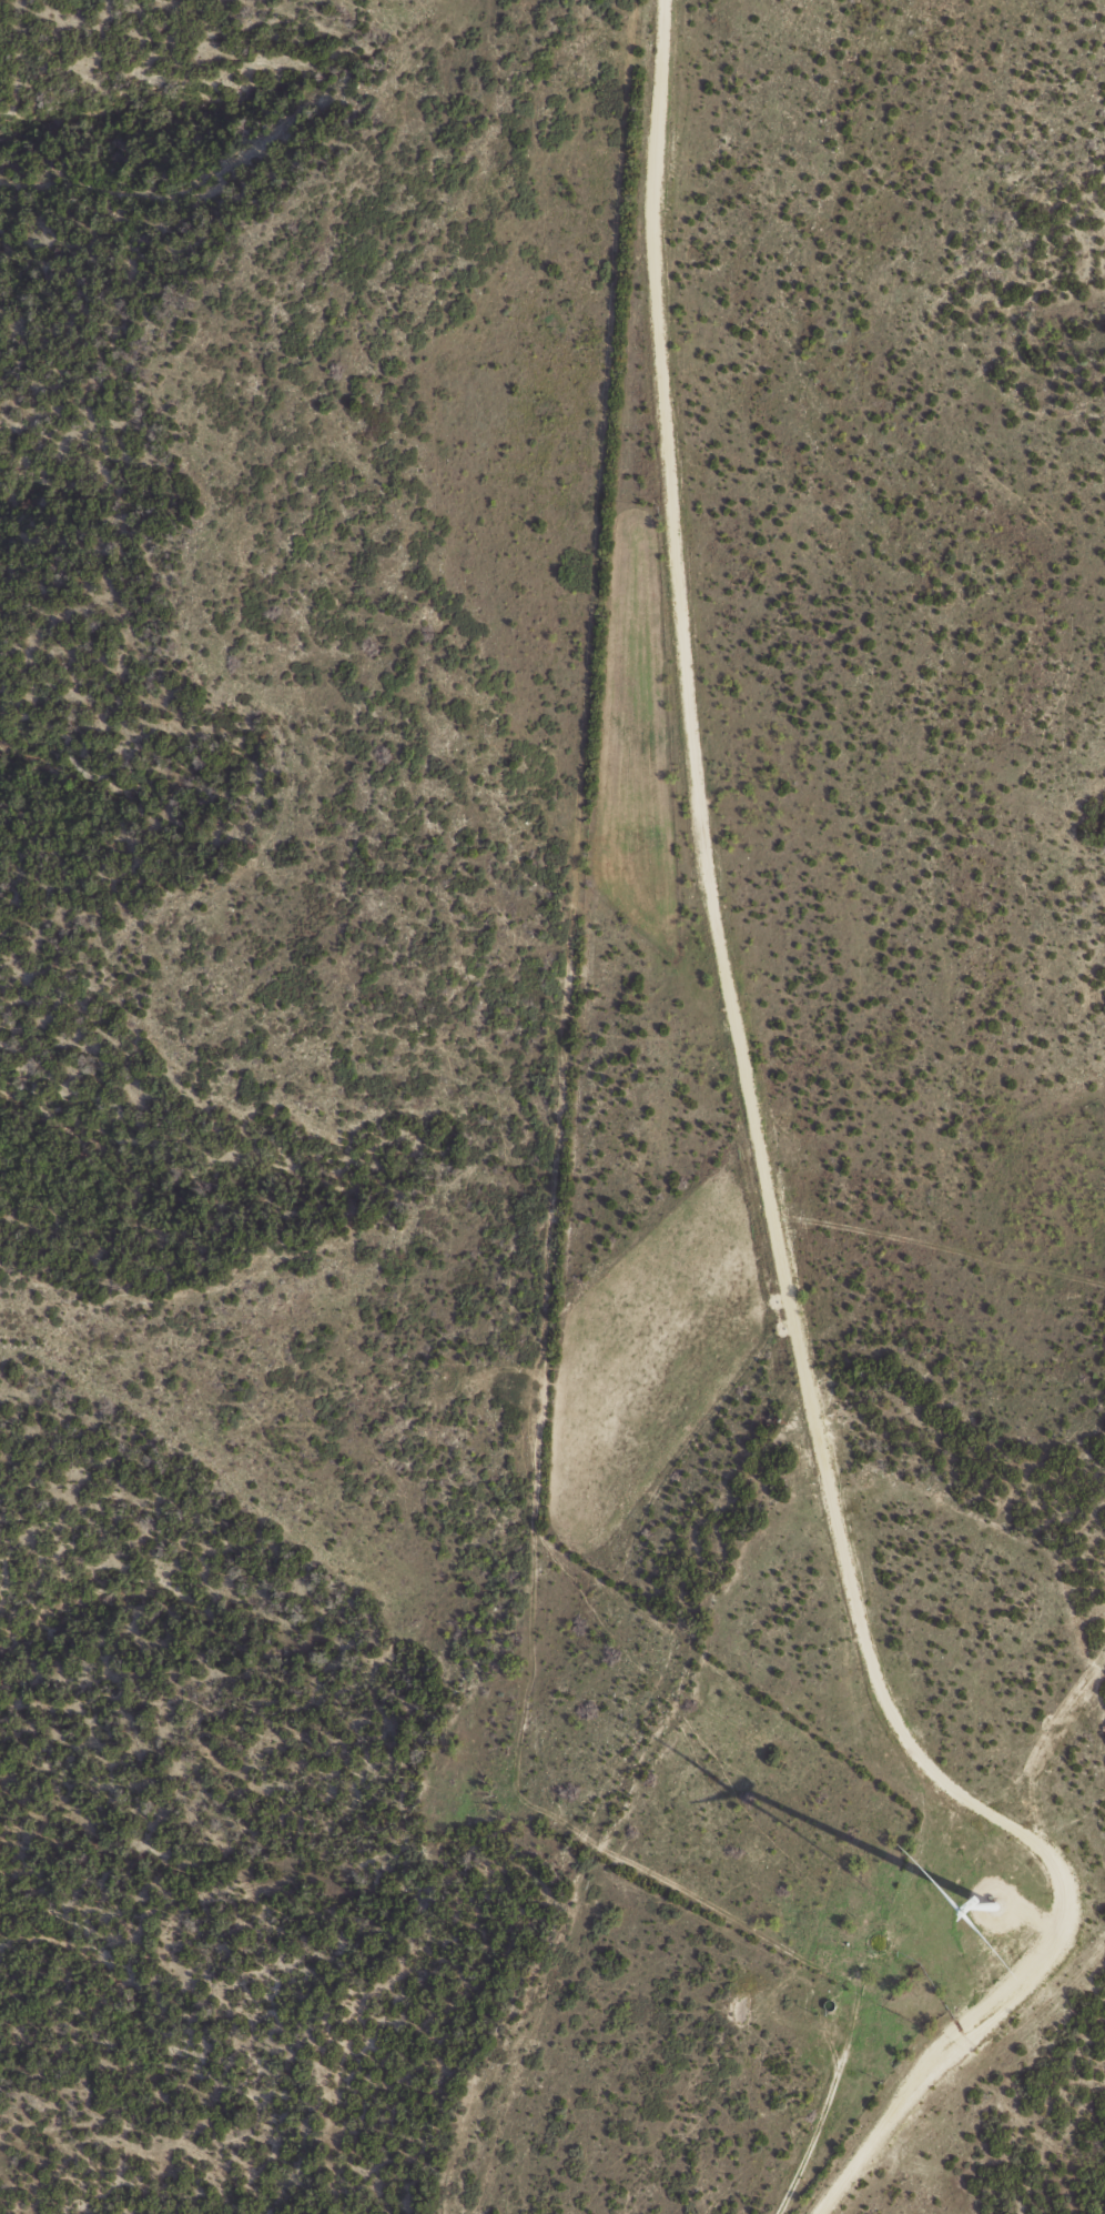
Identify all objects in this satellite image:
road: (771, 1194)
wind turbine: (992, 1906)

